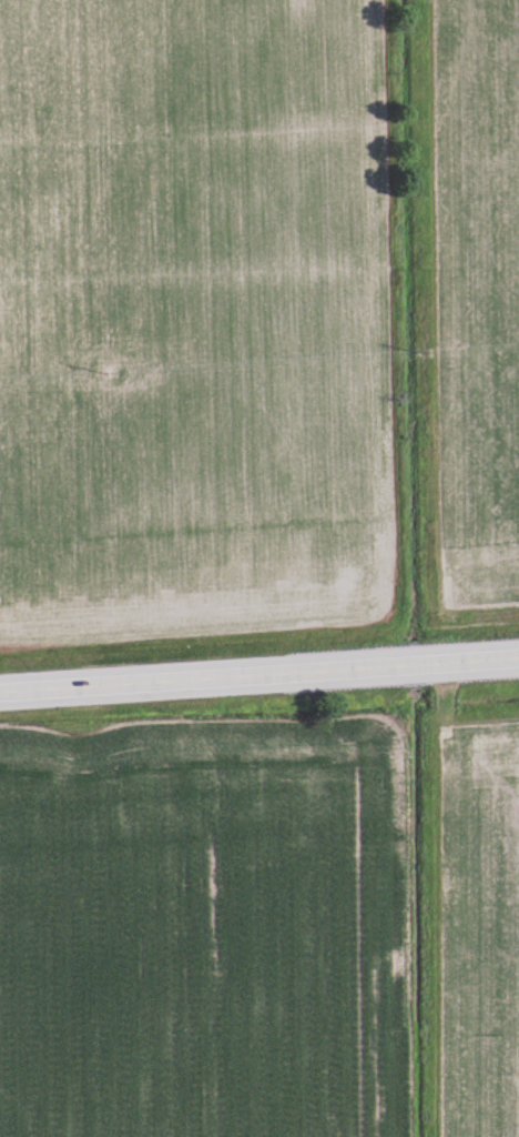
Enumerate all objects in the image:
road: (259, 675)

